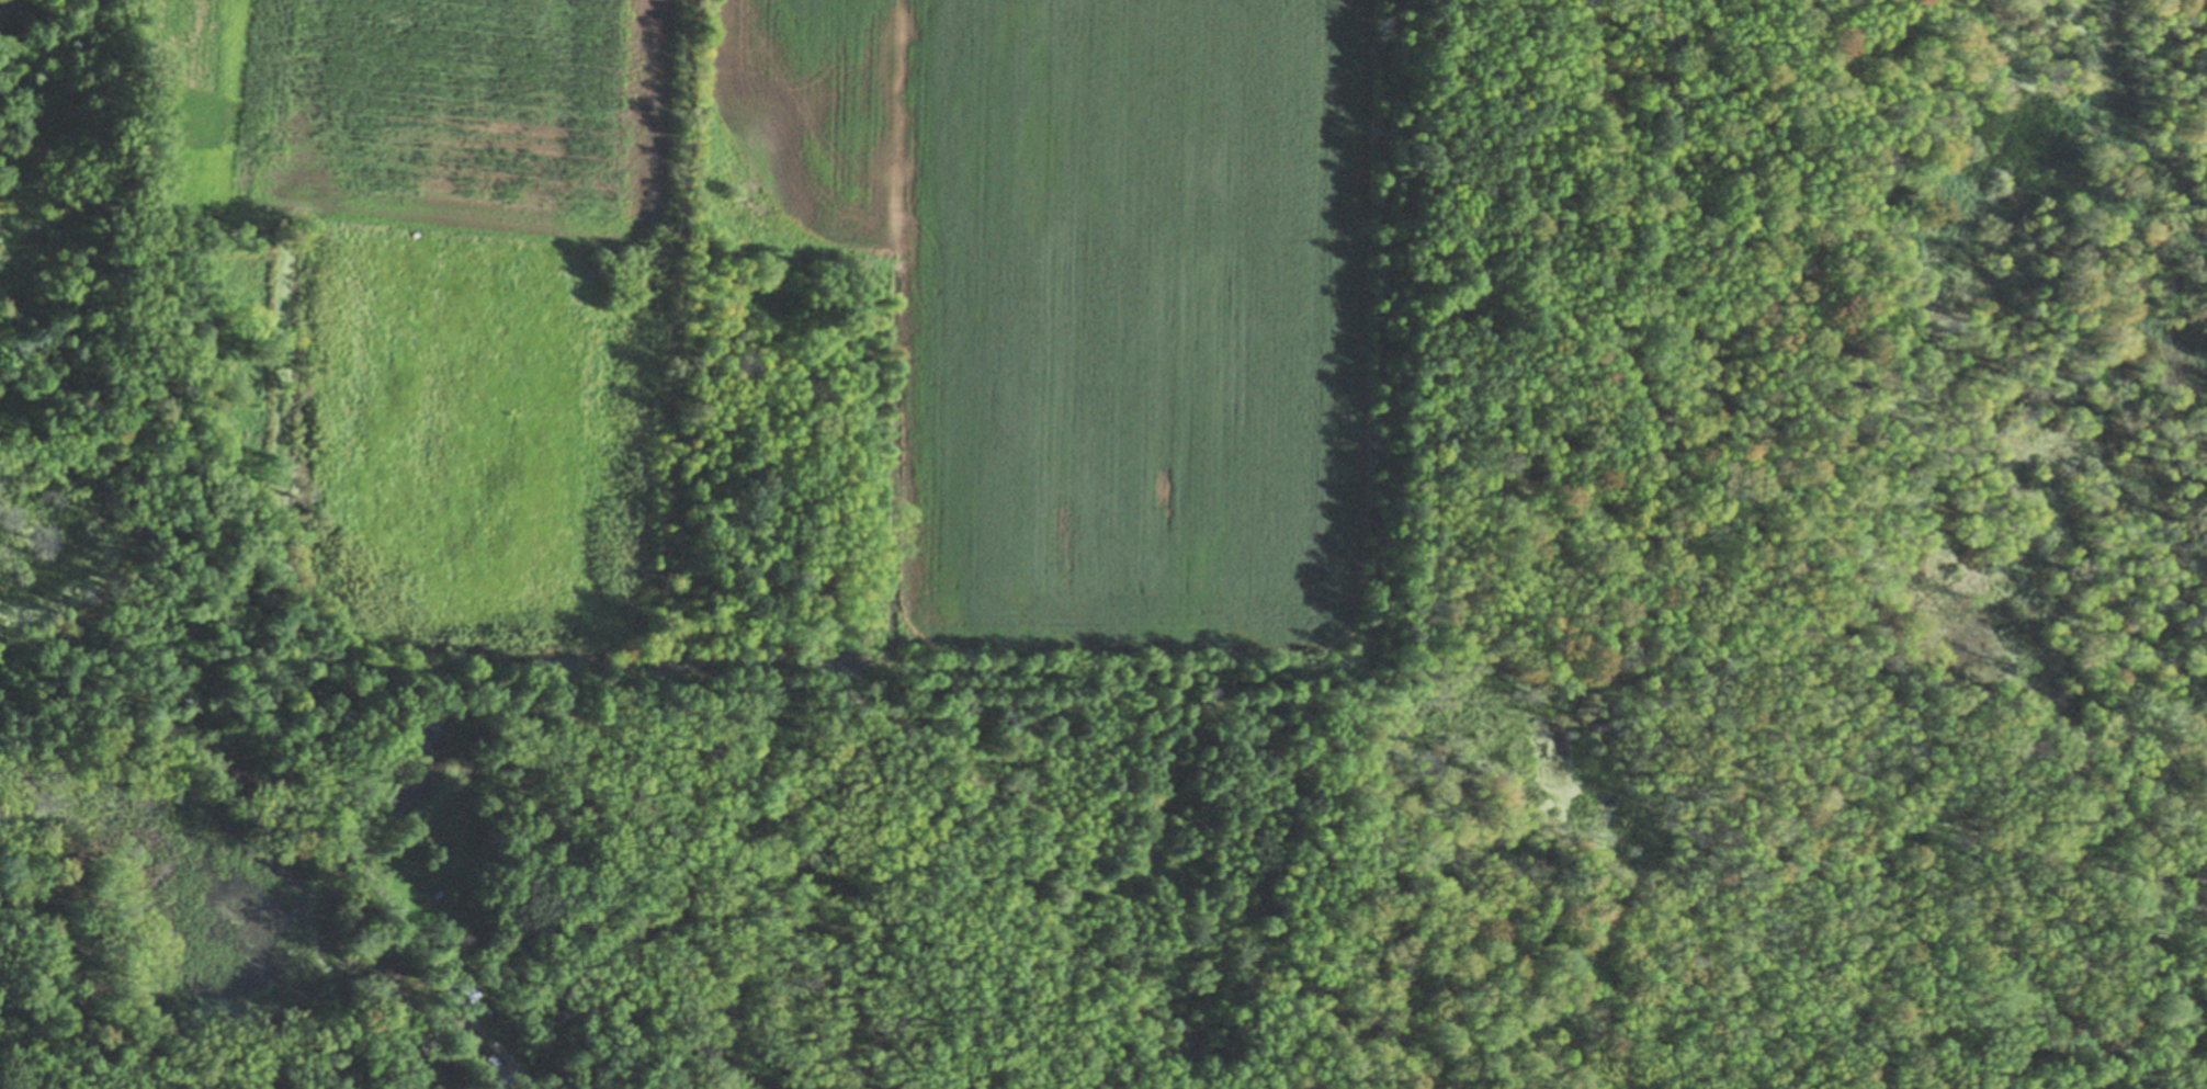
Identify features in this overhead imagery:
building: (466, 990)
building: (495, 1071)

